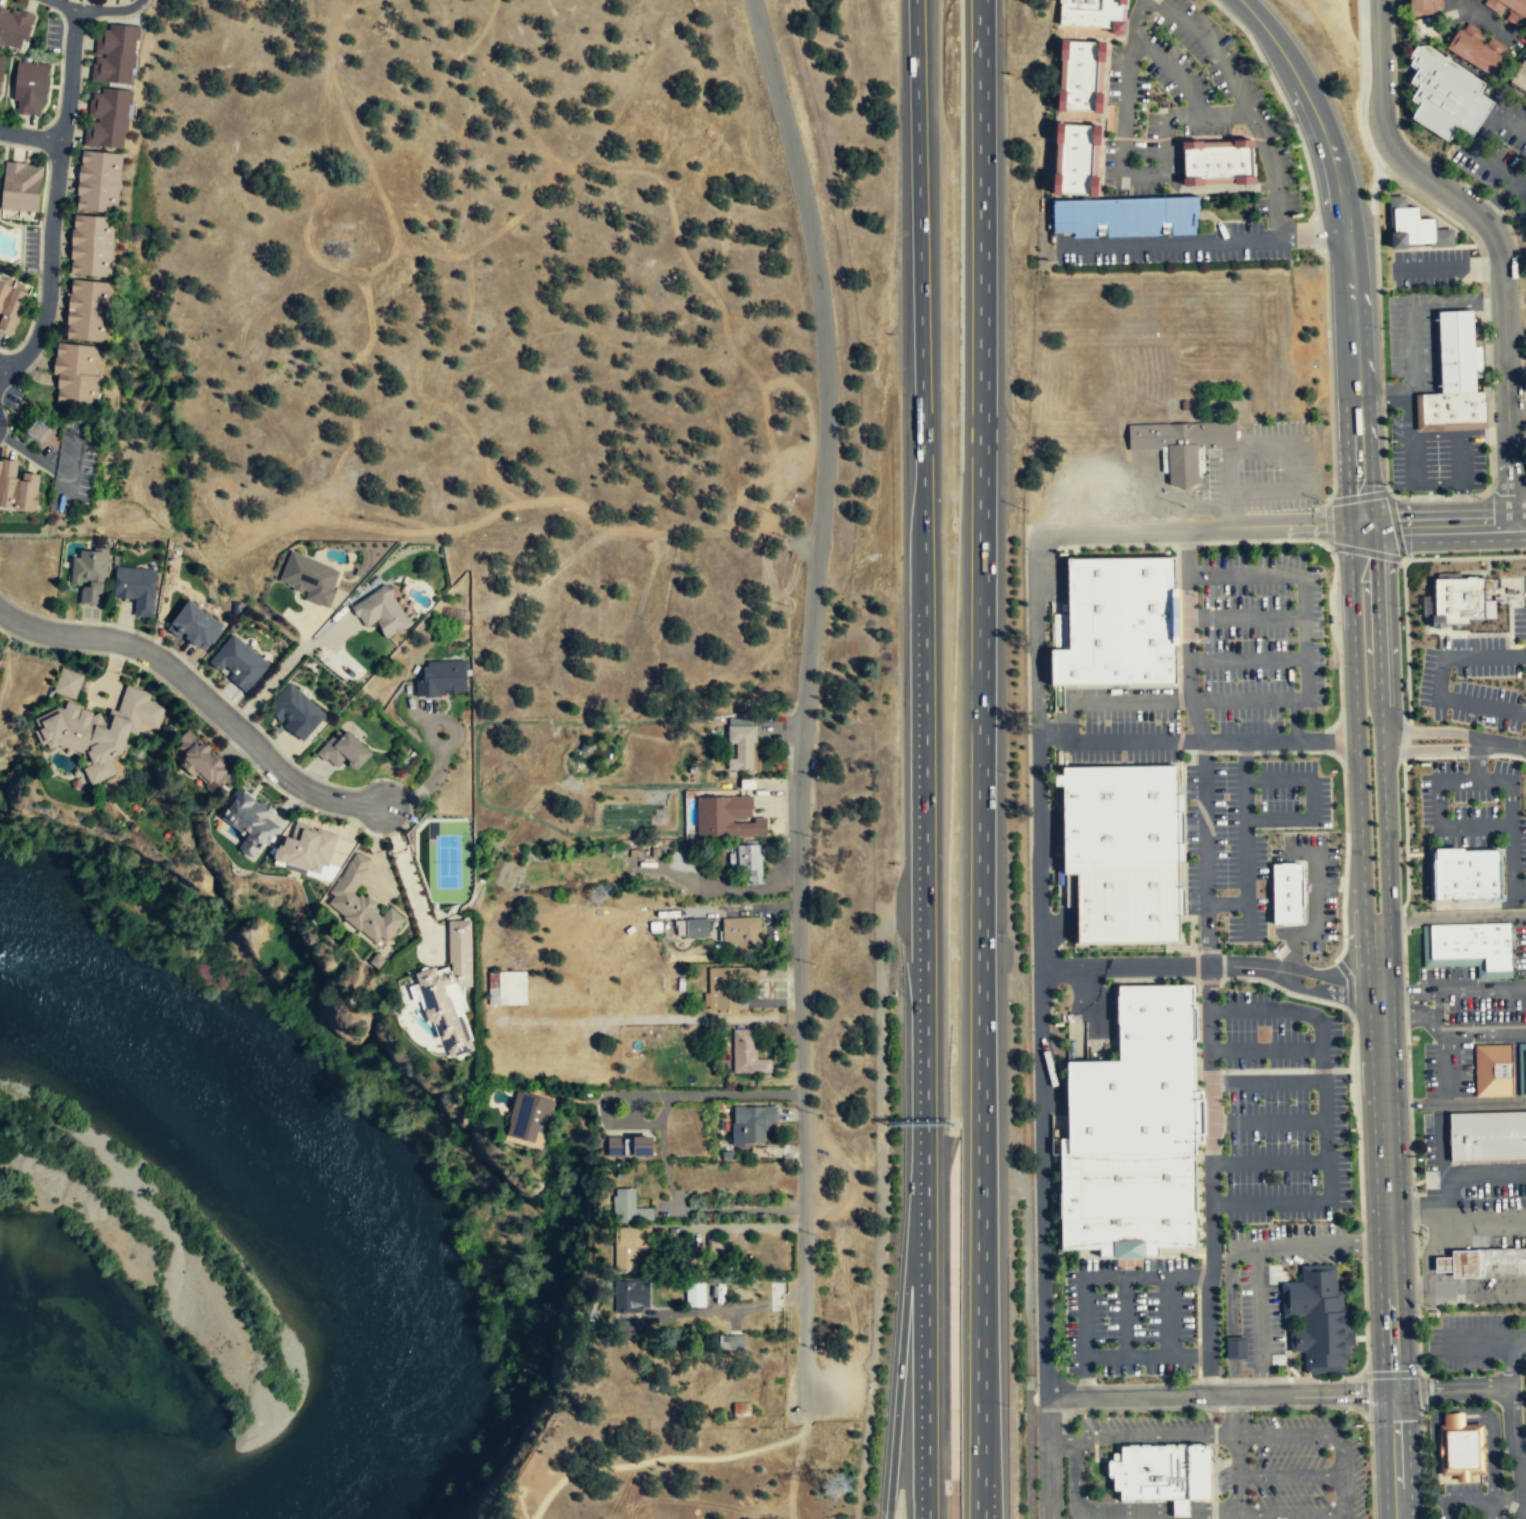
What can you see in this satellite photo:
street lamp: (1193, 0)
building: (1415, 6)
road: (95, 8)
building: (1509, 10)
building: (1092, 12)
road: (1480, 17)
road: (1135, 18)
street lamp: (1228, 18)
road: (1186, 27)
street lamp: (1222, 27)
building: (14, 29)
building: (1471, 51)
building: (115, 54)
building: (0, 59)
street lamp: (1194, 60)
road: (1174, 70)
building: (1080, 74)
building: (1520, 77)
road: (1234, 84)
street lamp: (1259, 84)
building: (28, 89)
street lamp: (1162, 89)
street lamp: (1150, 92)
building: (1442, 93)
road: (1282, 99)
road: (1226, 114)
building: (108, 119)
road: (1509, 126)
street lamp: (1295, 132)
road: (31, 135)
road: (1212, 136)
road: (1288, 137)
road: (1262, 138)
road: (1143, 139)
street lamp: (1292, 157)
building: (1075, 158)
road: (1101, 161)
building: (1217, 162)
road: (1498, 171)
road: (1123, 172)
road: (1274, 174)
building: (99, 183)
building: (21, 188)
road: (1216, 188)
road: (1374, 189)
street lamp: (1301, 191)
road: (54, 199)
road: (1504, 199)
building: (1125, 216)
street lamp: (1239, 217)
building: (1414, 227)
road: (1318, 233)
road: (1496, 237)
road: (1202, 240)
building: (92, 246)
road: (1346, 249)
street lamp: (1322, 263)
road: (1448, 269)
building: (11, 307)
building: (89, 311)
road: (1406, 328)
building: (1452, 351)
road: (1380, 354)
road: (1515, 359)
road: (1, 370)
road: (1328, 372)
building: (76, 375)
building: (1451, 407)
power tower: (37, 427)
road: (1457, 435)
road: (1517, 439)
building: (1181, 444)
road: (1248, 447)
road: (1412, 479)
building: (17, 488)
road: (1263, 491)
road: (1358, 496)
road: (1328, 524)
road: (1500, 524)
road: (1395, 525)
road: (1417, 526)
traffic signals: (1360, 527)
road: (1201, 528)
road: (1115, 544)
street lamp: (1268, 544)
street lamp: (1166, 547)
road: (1186, 547)
street lamp: (1071, 550)
road: (1364, 551)
street lamp: (1477, 552)
road: (1465, 557)
road: (1404, 560)
road: (1477, 571)
road: (1287, 574)
road: (1333, 574)
building: (90, 576)
building: (310, 578)
road: (1209, 580)
building: (136, 589)
road: (1057, 594)
street lamp: (1292, 595)
street lamp: (1199, 597)
building: (1454, 601)
street lamp: (1518, 603)
street lamp: (1399, 606)
building: (381, 611)
road: (922, 613)
road: (1177, 615)
road: (1247, 616)
road: (1509, 617)
building: (1120, 622)
building: (195, 627)
road: (1210, 628)
street lamp: (1471, 629)
road: (1460, 634)
road: (1406, 640)
parking lot: (1261, 641)
road: (1523, 645)
building: (240, 664)
street lamp: (1337, 665)
street lamp: (1452, 671)
street lamp: (1295, 678)
road: (1306, 678)
building: (441, 680)
street lamp: (1199, 680)
parking lot: (1478, 680)
road: (1440, 681)
building: (68, 684)
road: (1156, 685)
road: (199, 693)
road: (805, 693)
road: (1179, 700)
building: (296, 711)
road: (1194, 711)
street lamp: (1404, 711)
road: (1294, 719)
road: (1181, 720)
street lamp: (1166, 721)
street lamp: (1097, 722)
parking lot: (1117, 724)
road: (1071, 728)
road: (1381, 728)
building: (98, 730)
road: (1356, 730)
road: (1429, 730)
street lamp: (1488, 730)
road: (1325, 740)
road: (1405, 740)
road: (1178, 741)
road: (1500, 744)
building: (742, 748)
building: (343, 750)
road: (1431, 750)
road: (1186, 751)
road: (1204, 751)
road: (1224, 752)
road: (1244, 752)
road: (982, 759)
building: (200, 761)
road: (1130, 764)
street lamp: (1341, 770)
parking lot: (1525, 793)
street lamp: (1300, 799)
road: (1312, 800)
road: (1508, 804)
street lamp: (1225, 806)
parking lot: (1475, 806)
building: (1122, 813)
road: (1345, 815)
building: (249, 818)
building: (727, 818)
road: (1438, 818)
street lamp: (1400, 820)
parking lot: (1242, 832)
road: (1405, 836)
road: (1244, 843)
building: (307, 850)
road: (1205, 853)
park: (447, 860)
building: (746, 860)
street lamp: (1340, 875)
building: (1466, 875)
street lamp: (1226, 889)
power tower: (598, 892)
building: (1290, 894)
building: (1130, 902)
building: (361, 904)
road: (1068, 913)
road: (1402, 917)
road: (1248, 918)
road: (1450, 918)
building: (693, 929)
road: (1194, 935)
building: (741, 936)
building: (1474, 942)
street lamp: (1340, 943)
road: (1195, 951)
street lamp: (1303, 953)
road: (1404, 954)
building: (376, 961)
street lamp: (1406, 964)
road: (1211, 965)
road: (1039, 966)
road: (1196, 966)
road: (1176, 979)
road: (1208, 981)
street lamp: (1227, 983)
road: (1349, 983)
building: (726, 987)
building: (507, 989)
building: (450, 990)
road: (1283, 990)
road: (1452, 990)
street lamp: (1283, 998)
road: (1405, 1005)
road: (1295, 1011)
road: (1078, 1012)
building: (1158, 1020)
street lamp: (1311, 1028)
street lamp: (1349, 1028)
street lamp: (1221, 1030)
road: (1449, 1033)
road: (1266, 1050)
building: (746, 1054)
street lamp: (1409, 1058)
road: (1407, 1063)
road: (1446, 1063)
street lamp: (1310, 1064)
street lamp: (1266, 1065)
building: (1521, 1065)
road: (1341, 1069)
road: (1266, 1070)
road: (1321, 1070)
road: (1210, 1071)
building: (1493, 1071)
road: (736, 1093)
road: (1059, 1096)
road: (1446, 1097)
street lamp: (1276, 1101)
road: (1323, 1101)
road: (1455, 1102)
road: (604, 1103)
building: (1133, 1104)
road: (1409, 1104)
road: (1236, 1105)
parking lot: (1283, 1110)
street lamp: (1312, 1110)
street lamp: (1226, 1111)
building: (528, 1113)
road: (1199, 1114)
building: (751, 1124)
road: (1357, 1127)
building: (1487, 1136)
street lamp: (1277, 1142)
road: (1326, 1142)
building: (630, 1144)
street lamp: (1343, 1146)
road: (1411, 1152)
road: (1212, 1180)
street lamp: (1318, 1181)
street lamp: (1232, 1182)
road: (1329, 1182)
street lamp: (1414, 1186)
road: (1199, 1195)
building: (1129, 1197)
river: (317, 1203)
building: (628, 1208)
road: (681, 1208)
road: (1413, 1208)
road: (1388, 1225)
building: (627, 1247)
road: (1415, 1250)
road: (1121, 1251)
road: (1256, 1254)
road: (1202, 1255)
road: (1128, 1259)
building: (1501, 1262)
building: (1459, 1263)
road: (1200, 1275)
road: (1025, 1282)
street lamp: (1146, 1287)
street lamp: (1192, 1287)
street lamp: (1105, 1288)
road: (1416, 1291)
building: (694, 1294)
building: (631, 1296)
flagpole: (1432, 1306)
road: (728, 1308)
street lamp: (1418, 1313)
road: (1197, 1314)
road: (1083, 1316)
road: (1125, 1316)
road: (1167, 1316)
parking lot: (1129, 1317)
street lamp: (1063, 1318)
building: (1319, 1319)
road: (1485, 1339)
road: (1418, 1342)
building: (732, 1343)
street lamp: (1193, 1344)
parking lot: (1480, 1344)
street lamp: (1106, 1345)
street lamp: (1146, 1345)
building: (1235, 1348)
road: (1366, 1353)
road: (1198, 1354)
road: (899, 1371)
road: (925, 1372)
road: (1389, 1374)
road: (1198, 1375)
road: (1085, 1376)
street lamp: (1153, 1378)
road: (1261, 1378)
road: (1245, 1379)
road: (1208, 1380)
road: (1222, 1380)
road: (1233, 1380)
road: (1184, 1381)
parking lot: (822, 1386)
road: (1421, 1390)
road: (1452, 1390)
road: (1219, 1394)
road: (1363, 1394)
street lamp: (1346, 1409)
street lamp: (1219, 1410)
street lamp: (1087, 1412)
street lamp: (1422, 1417)
road: (1456, 1419)
road: (1512, 1425)
parking lot: (1147, 1429)
road: (1325, 1435)
road: (1161, 1436)
road: (1067, 1438)
road: (1029, 1447)
building: (1462, 1448)
road: (1235, 1456)
road: (1046, 1457)
road: (677, 1458)
road: (1522, 1461)
road: (1422, 1463)
parking lot: (1303, 1468)
building: (1161, 1471)
park: (688, 1472)
road: (792, 1475)
road: (1289, 1475)
power tower: (834, 1485)
parking lot: (1466, 1500)
road: (1484, 1501)
road: (1523, 1501)
street lamp: (1426, 1505)
road: (522, 1507)
road: (1119, 1508)
road: (1491, 1510)
road: (1449, 1511)
road: (1292, 1515)

